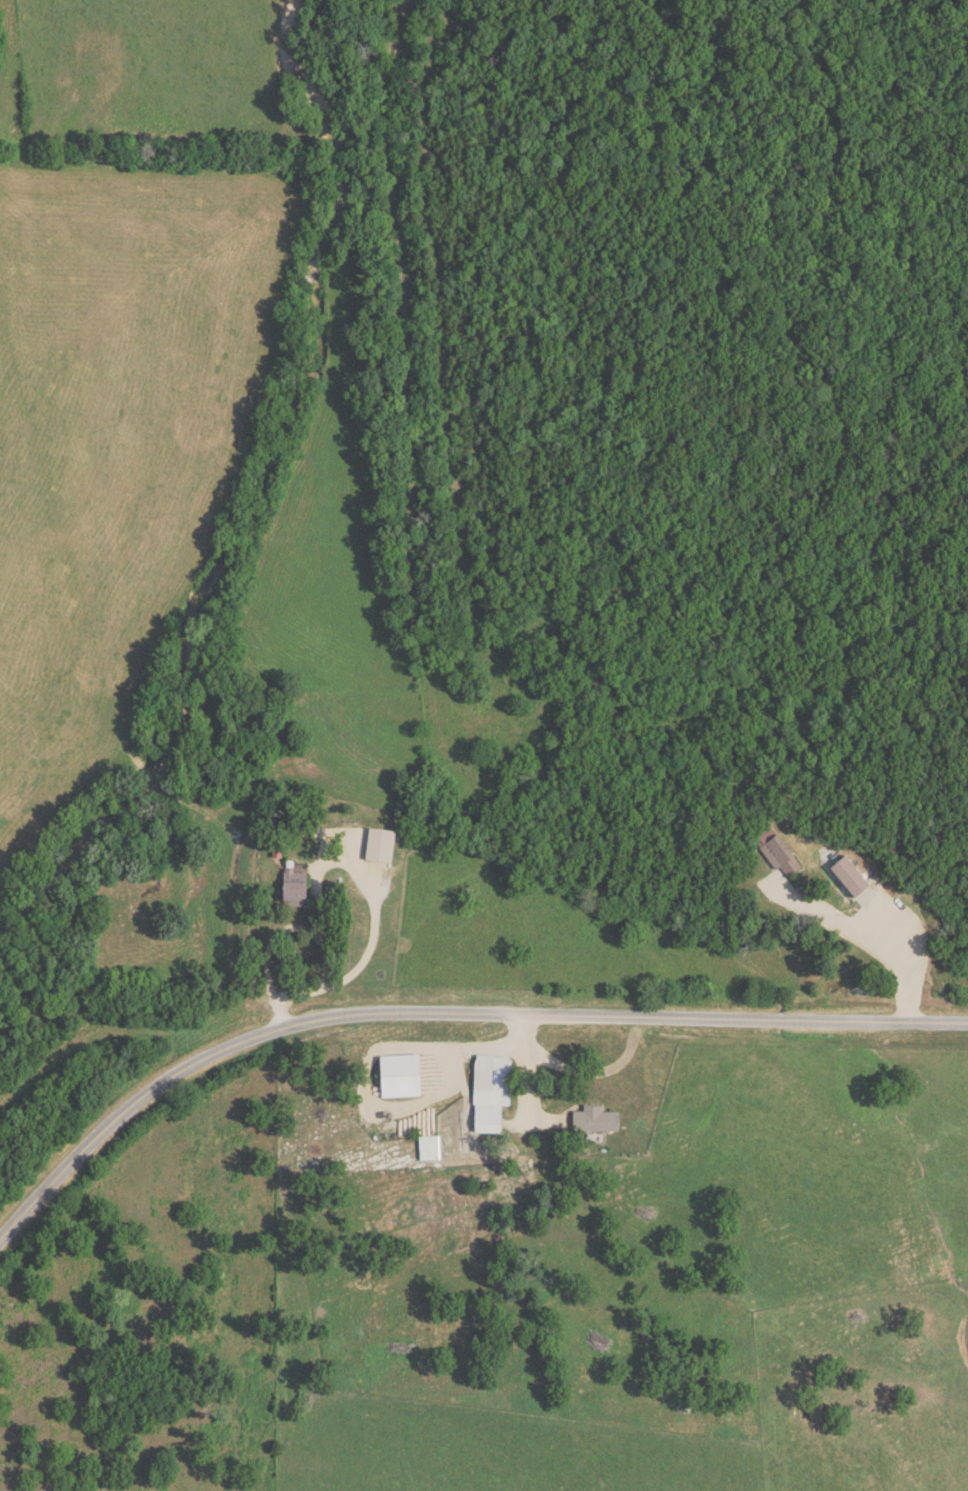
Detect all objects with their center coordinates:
road: (221, 509)
building: (380, 842)
building: (778, 848)
building: (848, 872)
building: (293, 883)
road: (856, 937)
road: (445, 1015)
road: (456, 1049)
building: (482, 1070)
road: (575, 1071)
building: (398, 1073)
building: (487, 1116)
building: (593, 1116)
building: (429, 1145)

